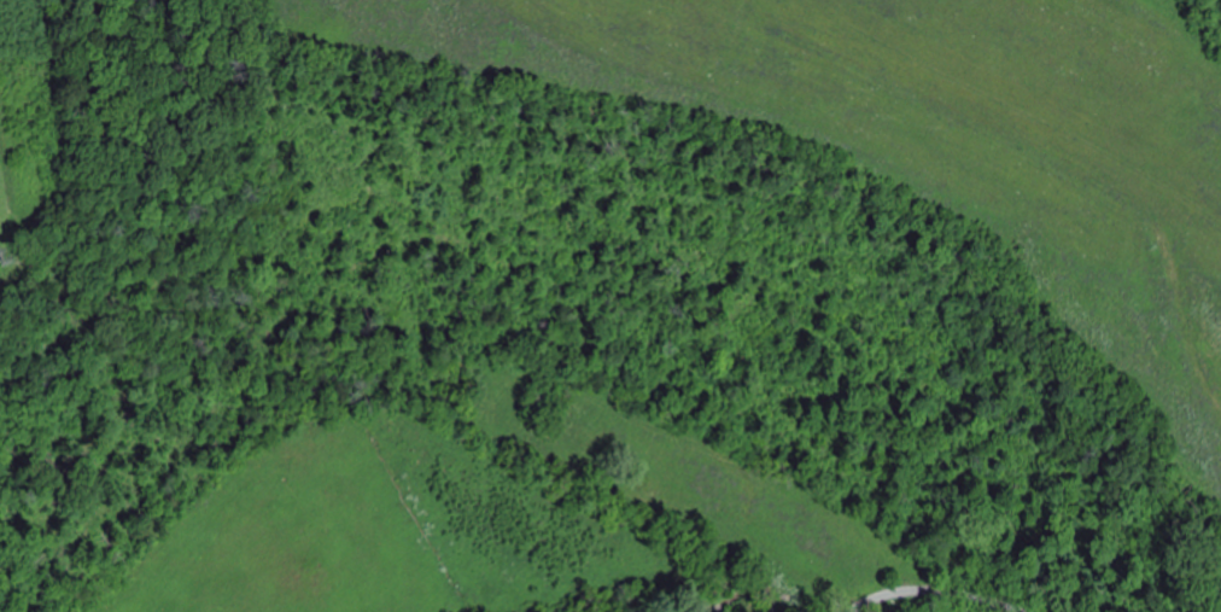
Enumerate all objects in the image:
road: (1046, 152)
road: (934, 593)

